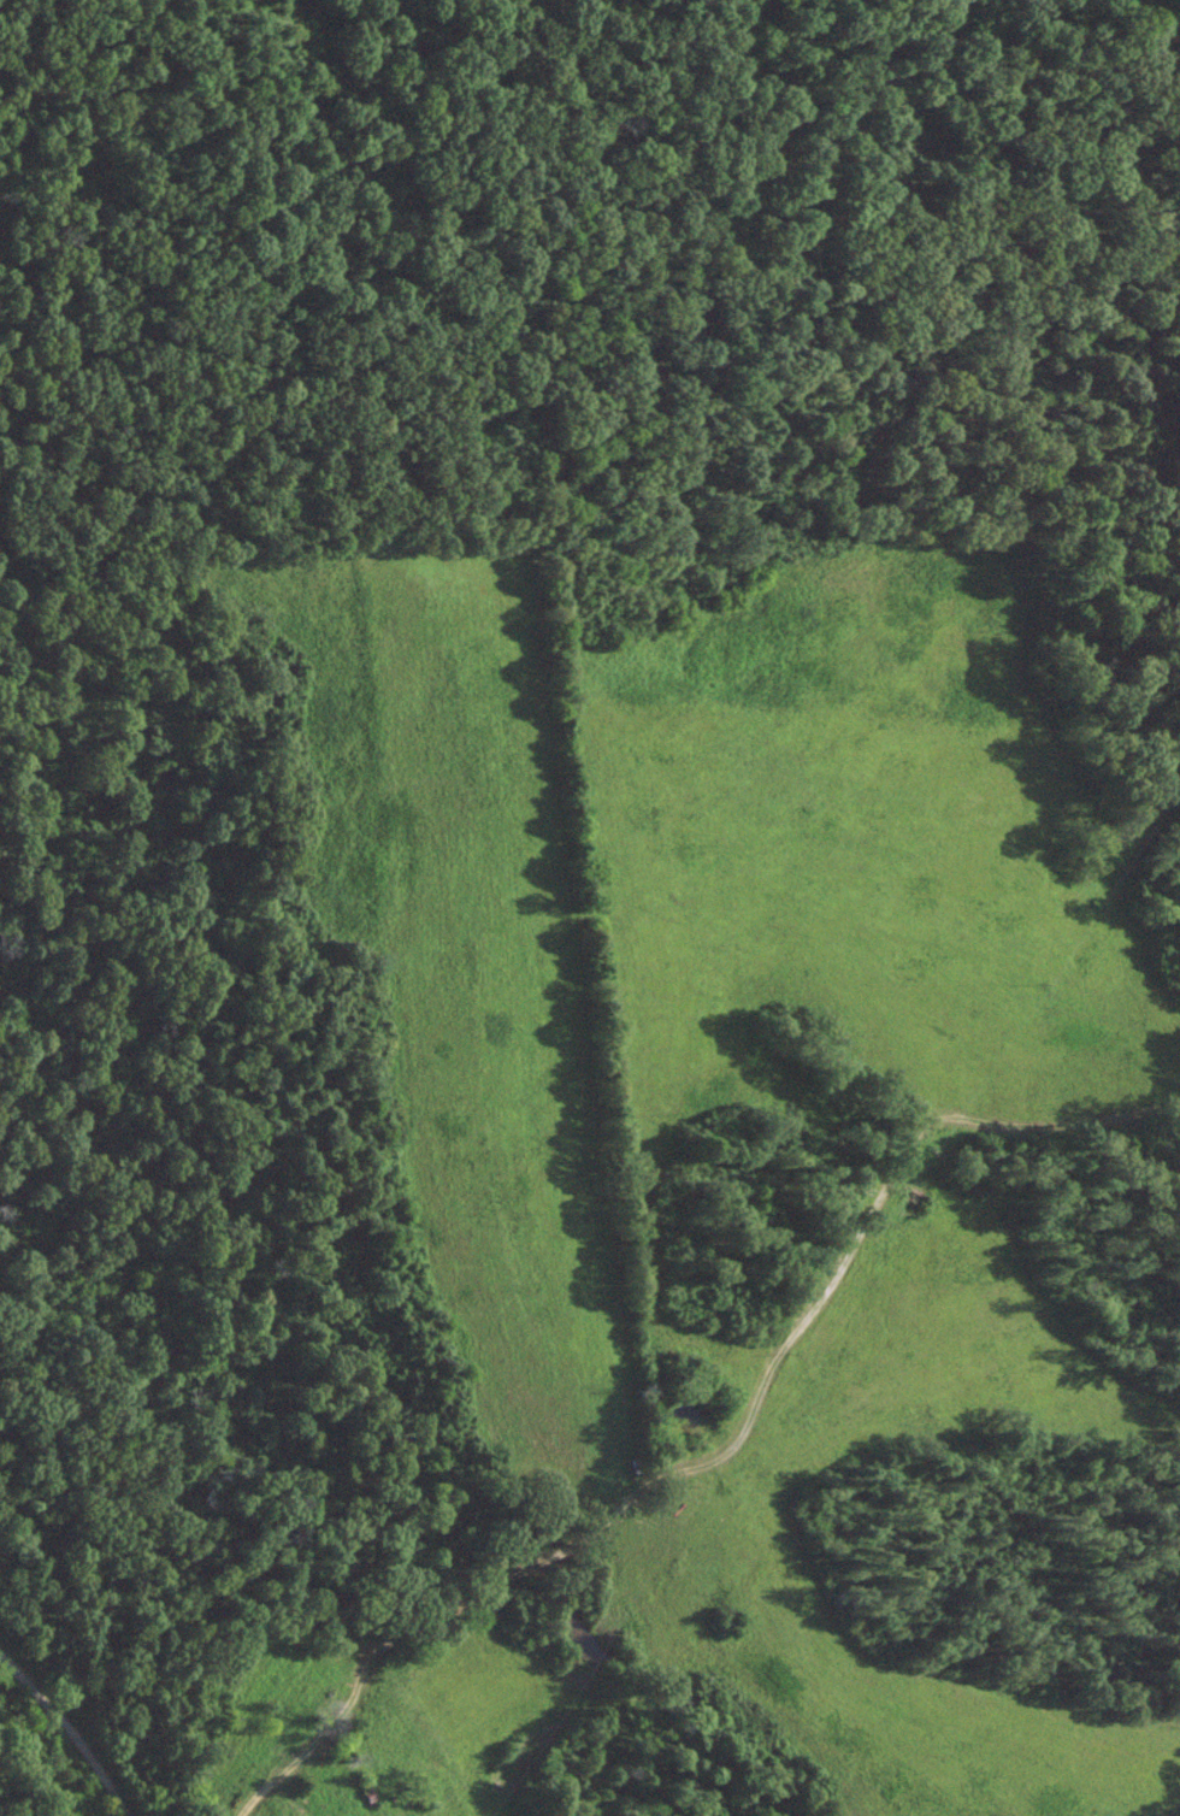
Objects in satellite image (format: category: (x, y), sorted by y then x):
building: (331, 1703)
road: (73, 1722)
building: (335, 1788)

